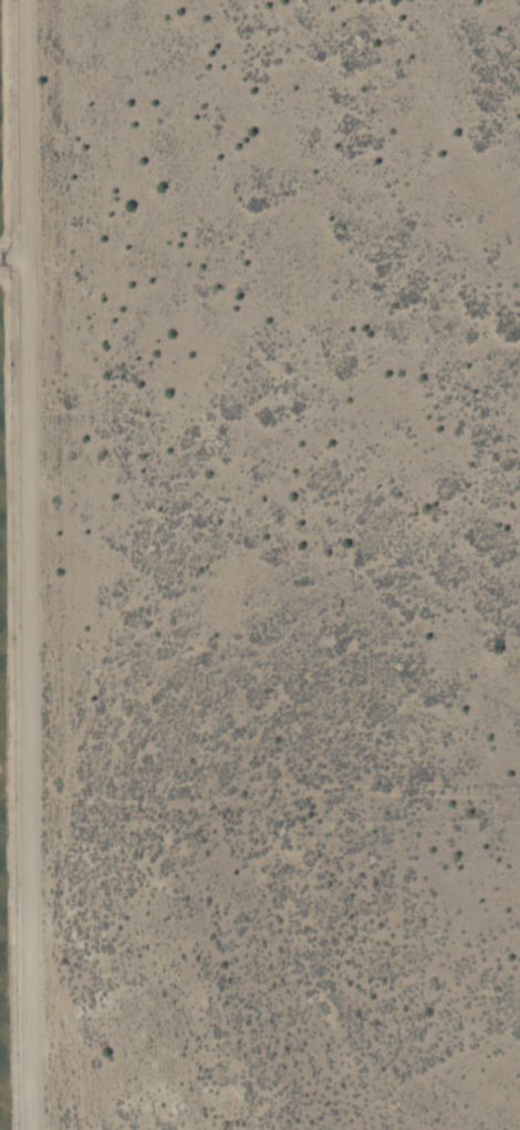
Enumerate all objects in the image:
road: (35, 565)

